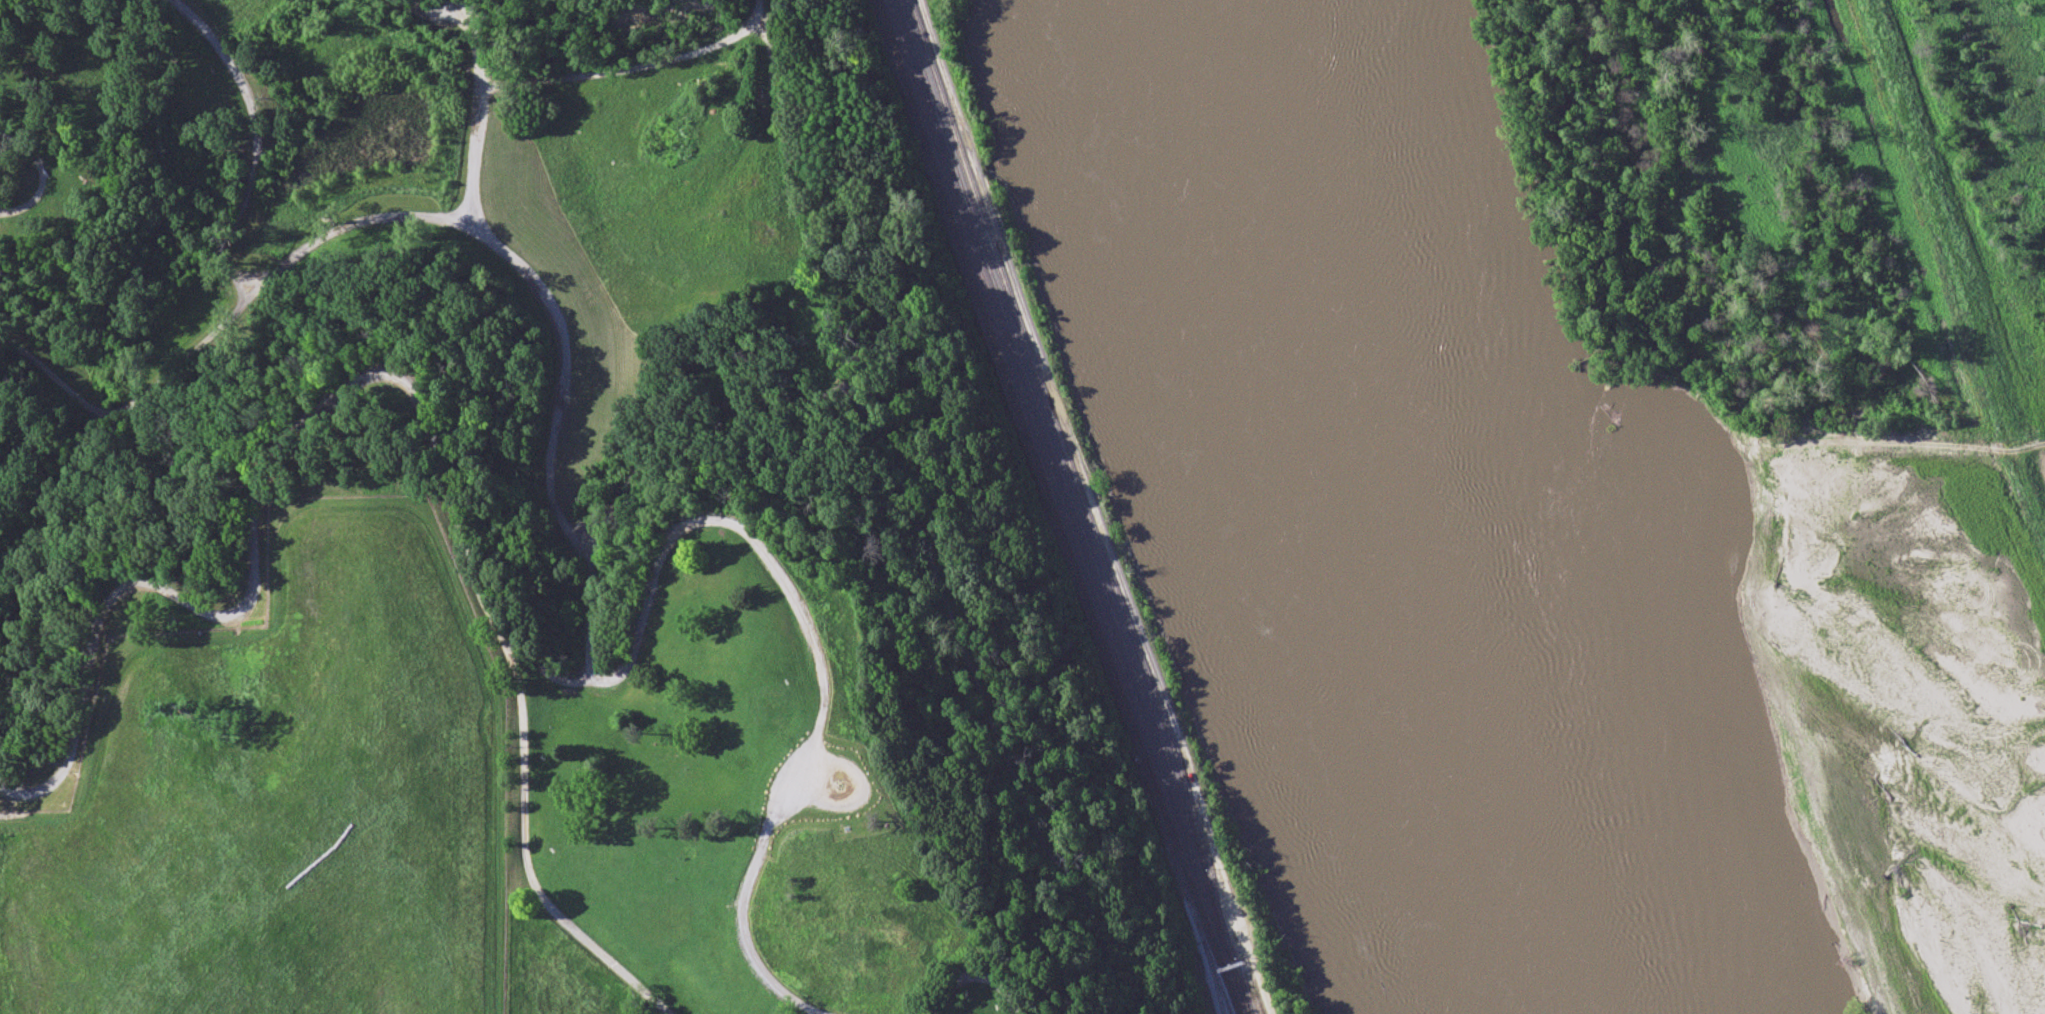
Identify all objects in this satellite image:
road: (475, 44)
railway: (896, 51)
road: (638, 69)
road: (477, 158)
road: (47, 179)
road: (231, 284)
road: (257, 290)
road: (384, 298)
road: (126, 409)
railway: (1028, 435)
railway: (1058, 436)
park: (589, 473)
railway: (1063, 482)
river: (1422, 505)
railway: (1064, 508)
road: (13, 511)
road: (60, 511)
parking lot: (584, 542)
road: (893, 553)
road: (930, 570)
road: (16, 622)
road: (813, 653)
road: (581, 682)
building: (769, 711)
road: (785, 737)
parking lot: (816, 787)
road: (528, 853)
railway: (1192, 890)
railway: (1183, 891)
road: (973, 978)

